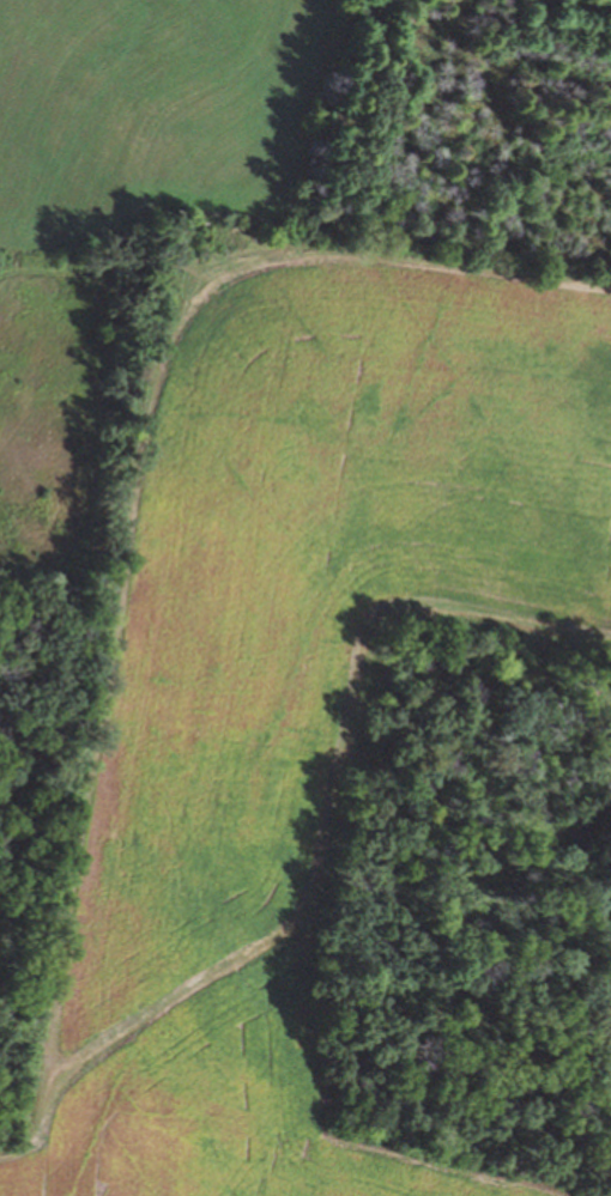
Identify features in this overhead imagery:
road: (327, 845)

